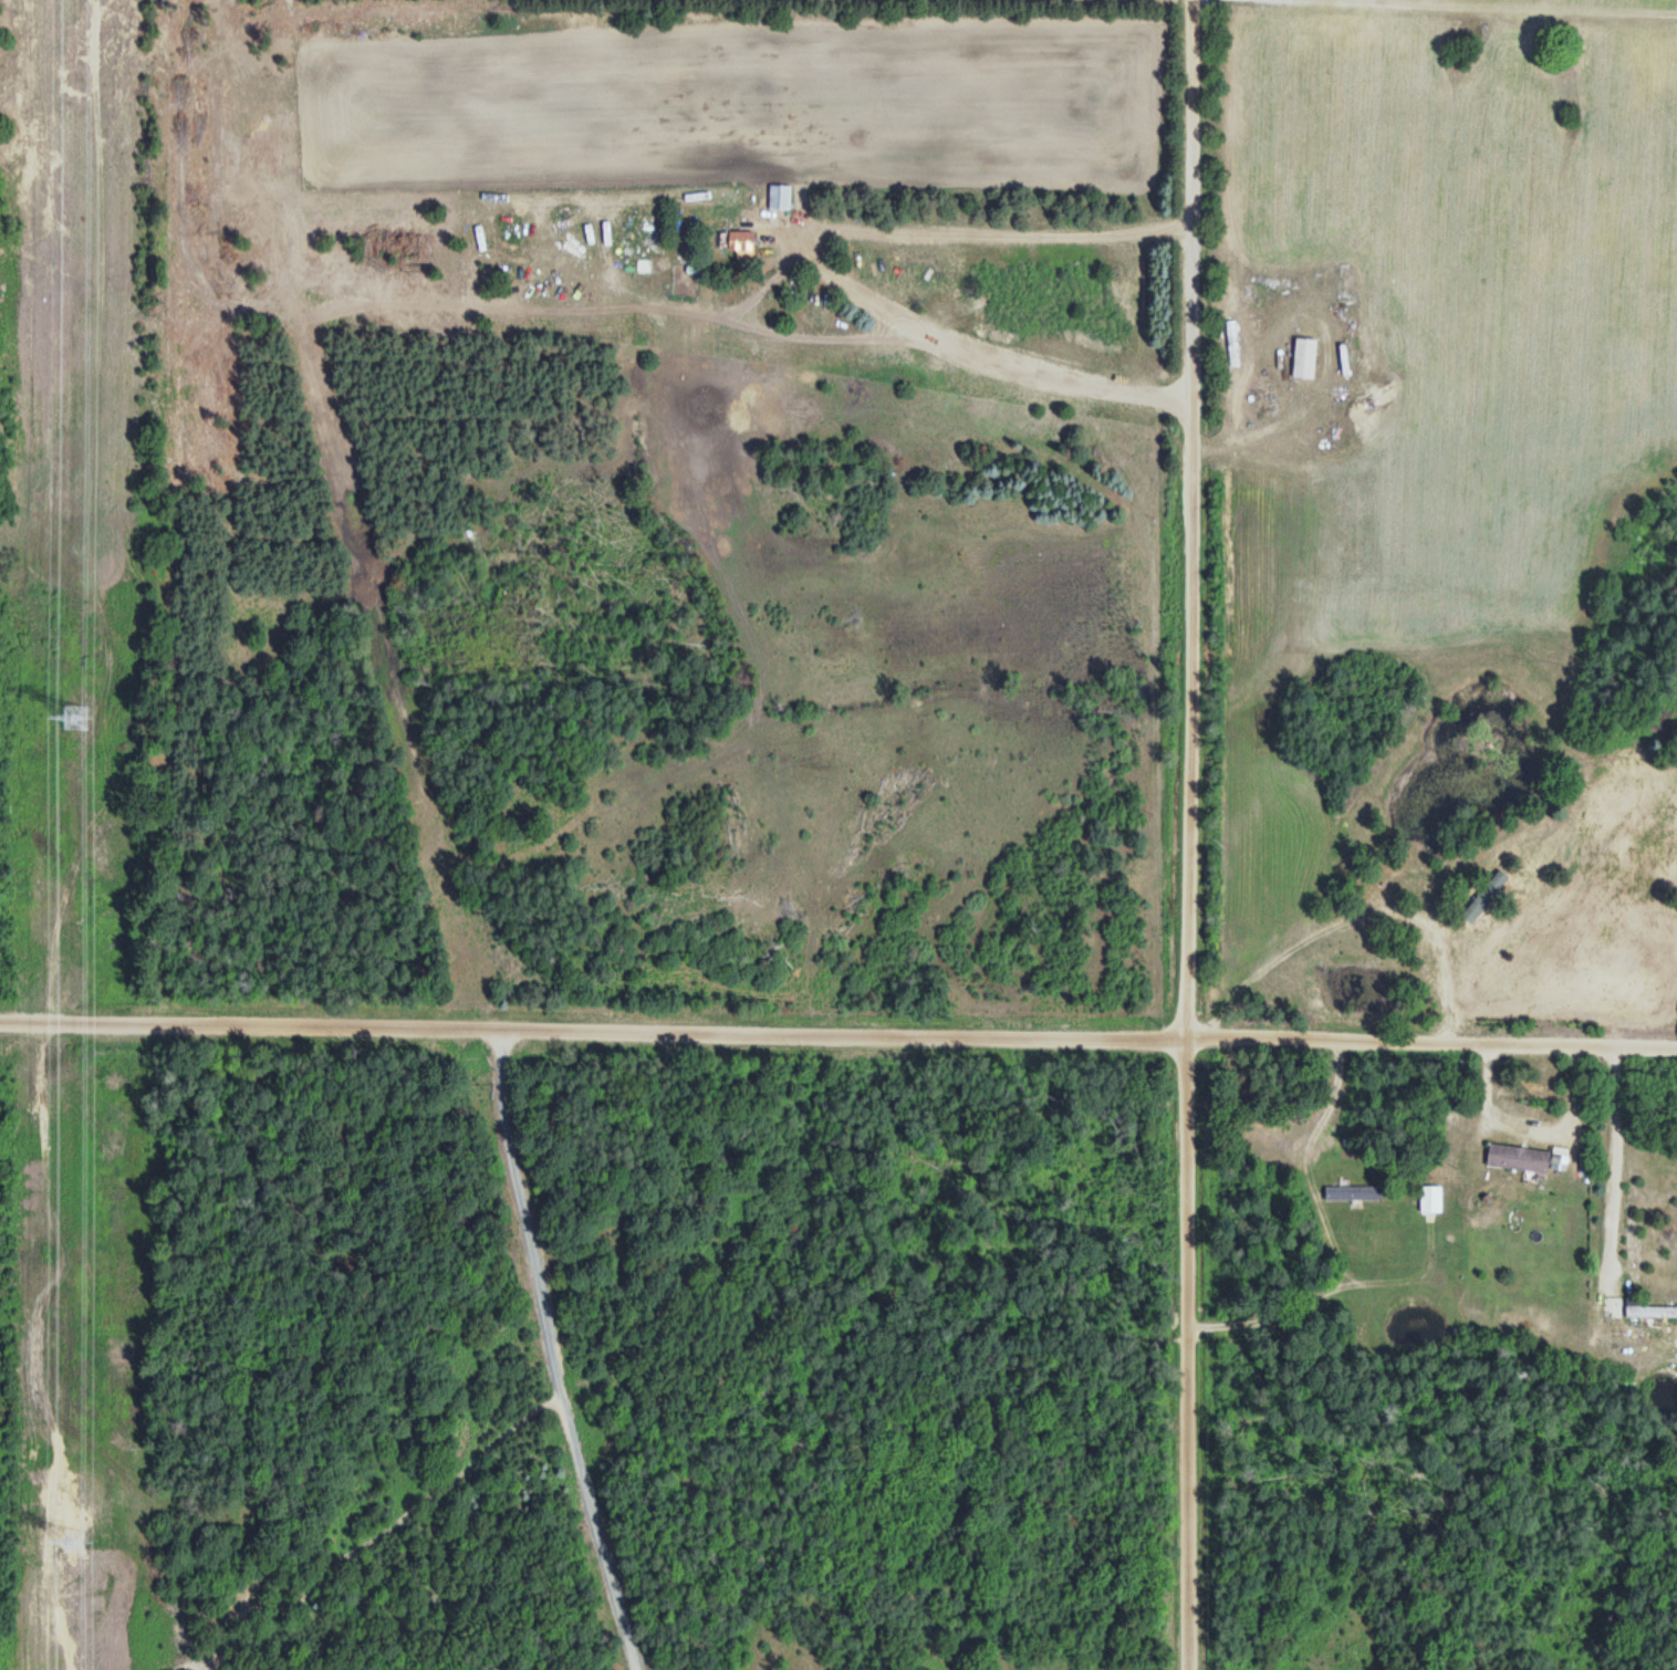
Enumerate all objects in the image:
building: (774, 197)
building: (737, 243)
building: (1302, 358)
power tower: (81, 717)
road: (1175, 835)
building: (1481, 895)
road: (838, 1015)
building: (1513, 1157)
building: (1348, 1192)
building: (1428, 1198)
building: (1646, 1308)
power tower: (77, 1537)

